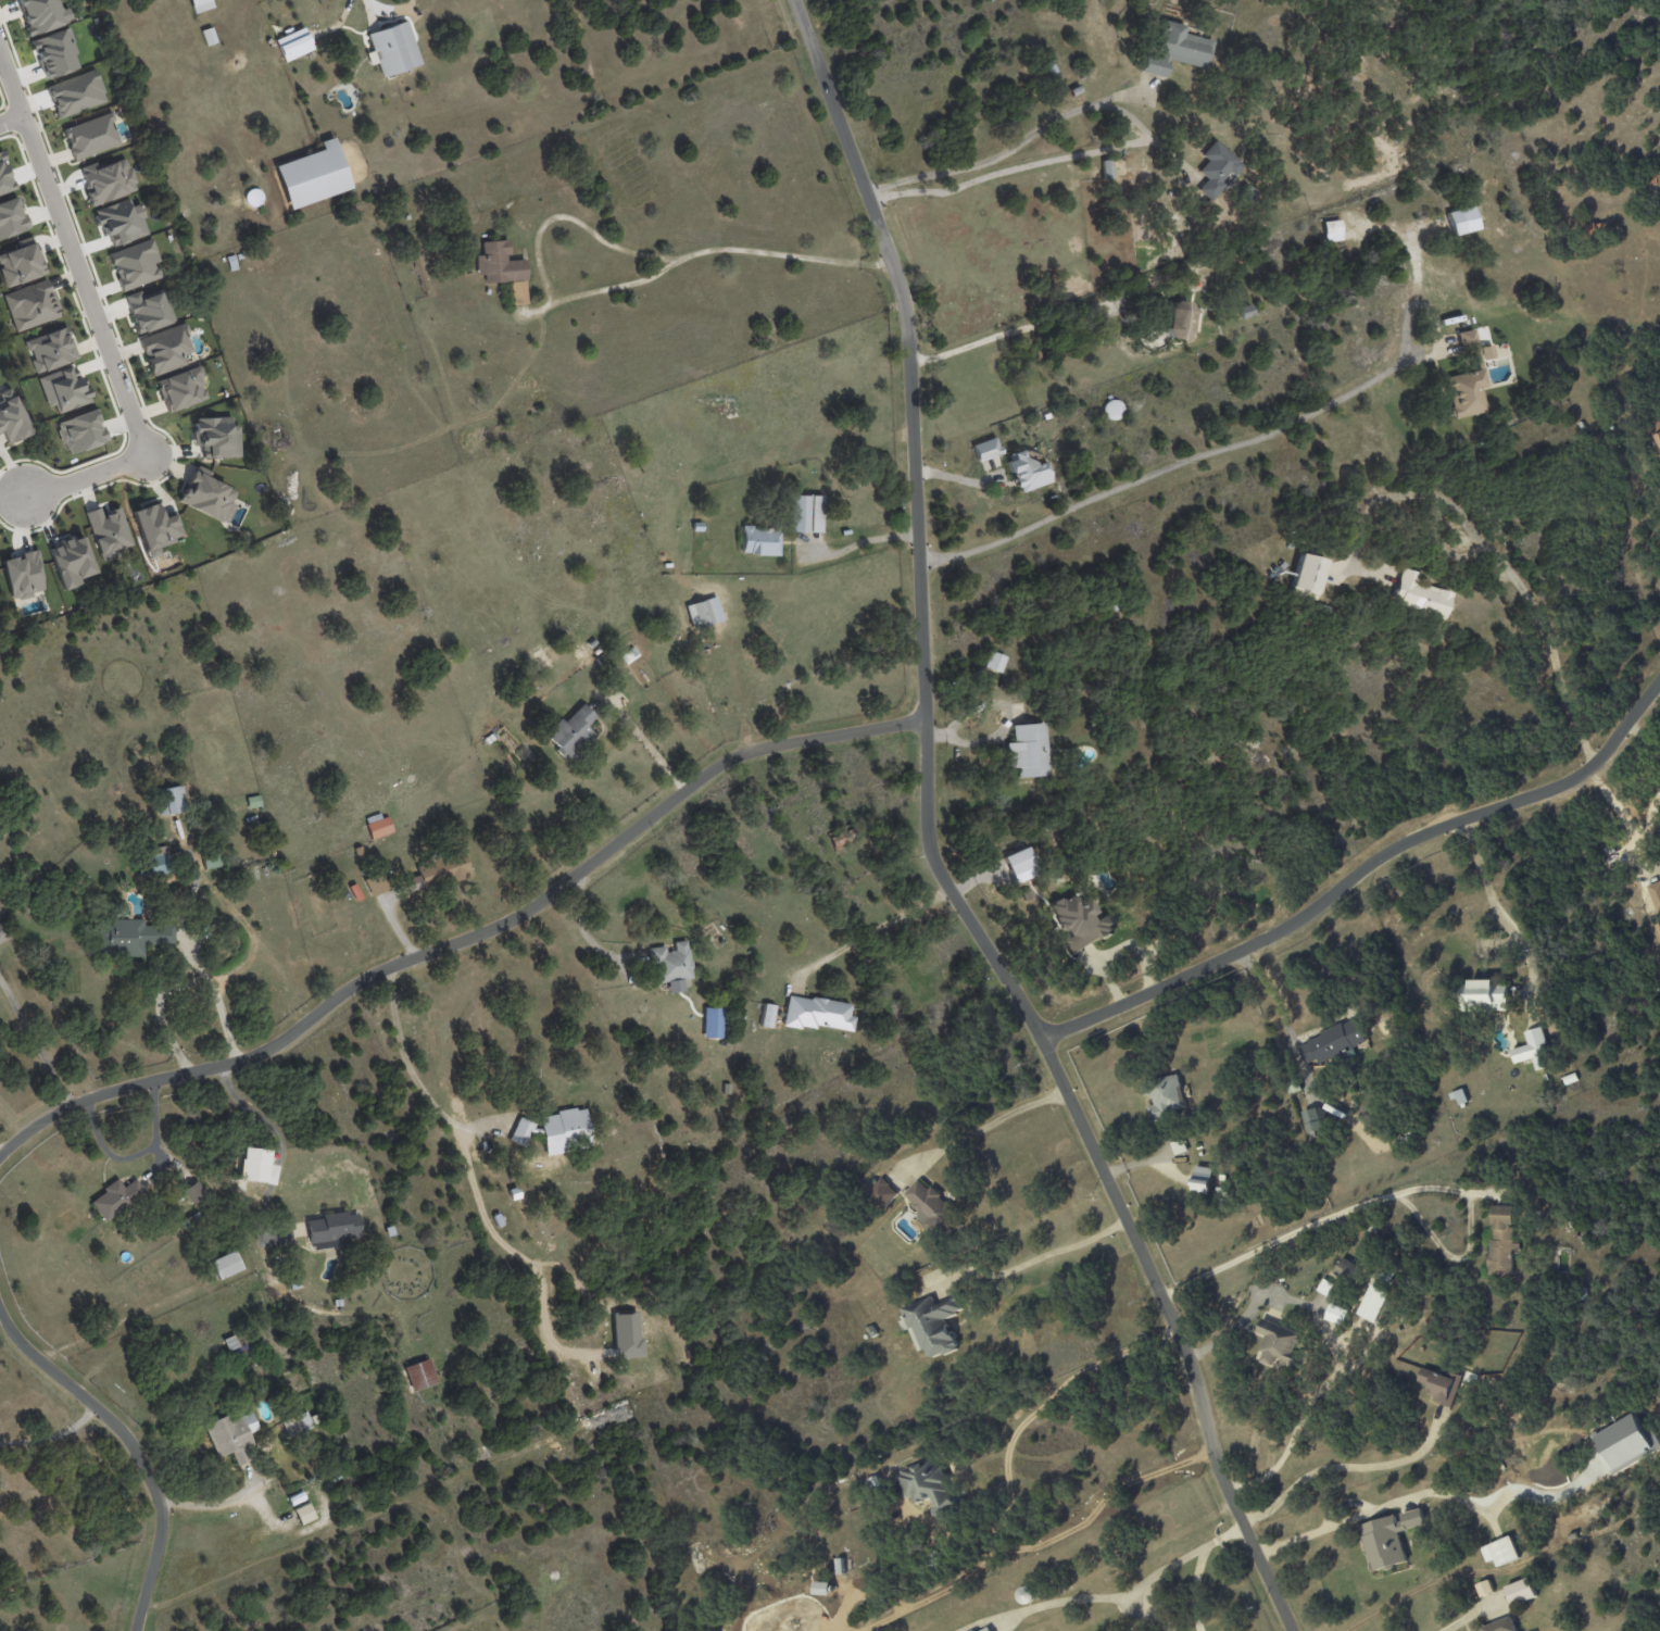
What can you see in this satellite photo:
road: (395, 1)
building: (201, 5)
building: (42, 14)
building: (293, 43)
building: (392, 48)
building: (1177, 49)
building: (54, 52)
building: (75, 93)
road: (1128, 114)
road: (8, 117)
building: (90, 136)
road: (1006, 151)
road: (1034, 163)
building: (1107, 168)
building: (1217, 168)
building: (311, 175)
building: (4, 177)
building: (106, 180)
building: (11, 217)
building: (1462, 219)
building: (121, 221)
building: (1332, 230)
road: (703, 251)
building: (240, 255)
building: (234, 262)
building: (21, 264)
building: (135, 264)
building: (502, 268)
building: (32, 304)
building: (148, 310)
road: (90, 317)
building: (1179, 318)
road: (1016, 328)
building: (50, 349)
building: (165, 349)
building: (63, 388)
building: (181, 388)
building: (11, 417)
building: (81, 430)
building: (216, 437)
building: (1658, 439)
building: (986, 449)
road: (1164, 466)
building: (1028, 468)
building: (206, 493)
building: (805, 513)
building: (155, 527)
building: (109, 531)
building: (759, 540)
road: (852, 543)
building: (72, 561)
building: (23, 575)
building: (1308, 575)
building: (1419, 594)
building: (704, 612)
road: (1542, 627)
building: (994, 661)
building: (571, 731)
road: (644, 741)
building: (1028, 750)
building: (171, 800)
building: (254, 802)
building: (378, 825)
building: (842, 839)
road: (931, 845)
building: (158, 856)
building: (215, 857)
building: (1019, 860)
building: (438, 871)
road: (1360, 871)
building: (375, 883)
building: (1655, 894)
road: (1495, 905)
building: (120, 911)
building: (1081, 923)
road: (582, 927)
building: (3, 932)
road: (868, 933)
building: (129, 938)
road: (463, 941)
road: (1116, 950)
building: (671, 962)
road: (1269, 992)
building: (1482, 996)
building: (818, 1013)
building: (767, 1015)
building: (712, 1022)
road: (36, 1041)
building: (1332, 1042)
building: (1533, 1049)
building: (1569, 1078)
building: (1168, 1096)
road: (983, 1127)
building: (565, 1130)
building: (520, 1132)
road: (278, 1152)
road: (0, 1153)
road: (135, 1154)
road: (471, 1177)
building: (1202, 1180)
building: (196, 1191)
building: (883, 1192)
building: (115, 1197)
building: (927, 1204)
building: (192, 1220)
road: (1311, 1224)
building: (331, 1228)
building: (1501, 1239)
building: (211, 1240)
road: (1047, 1253)
building: (226, 1265)
building: (1346, 1268)
building: (294, 1283)
building: (1373, 1303)
building: (933, 1325)
road: (1233, 1325)
building: (627, 1334)
building: (231, 1342)
building: (1277, 1343)
building: (420, 1373)
road: (1323, 1384)
building: (1441, 1384)
road: (1040, 1406)
building: (315, 1419)
building: (298, 1425)
road: (51, 1436)
building: (232, 1436)
road: (135, 1447)
road: (1344, 1466)
building: (929, 1485)
road: (207, 1505)
road: (1379, 1507)
building: (305, 1515)
building: (1388, 1538)
building: (1500, 1552)
building: (1484, 1588)
road: (1193, 1589)
building: (1520, 1592)
road: (1109, 1598)
road: (1471, 1623)
building: (1499, 1626)
building: (984, 1629)

